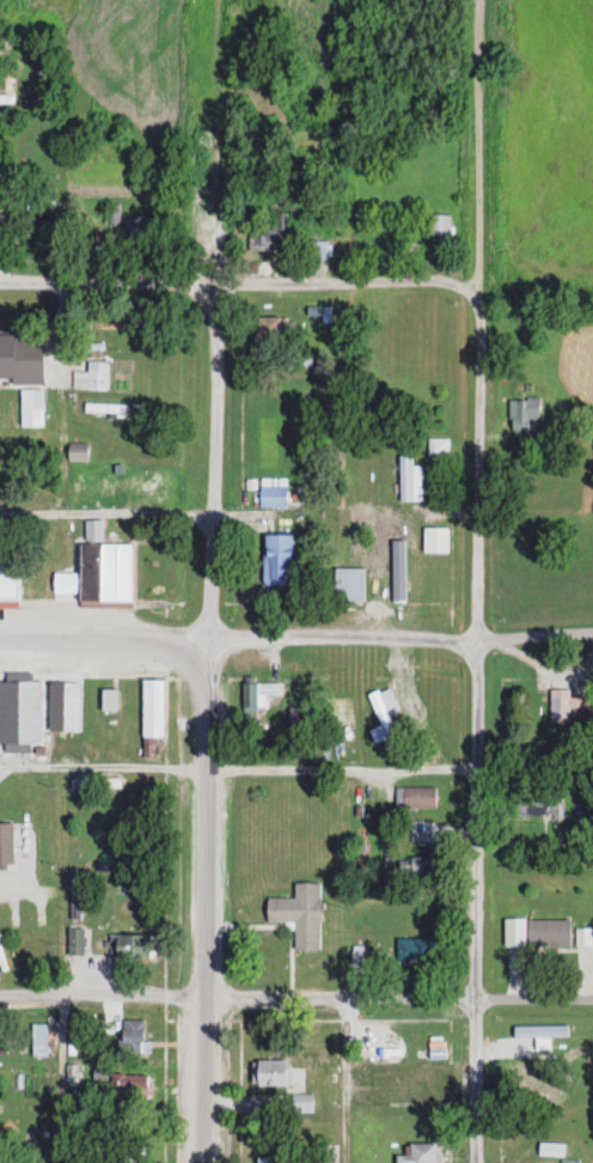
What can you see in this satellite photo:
building: (29, 44)
building: (7, 91)
road: (213, 141)
building: (114, 214)
building: (44, 218)
building: (438, 225)
building: (5, 227)
building: (271, 232)
building: (139, 235)
building: (49, 246)
building: (320, 250)
road: (103, 281)
road: (350, 281)
road: (212, 282)
building: (270, 327)
building: (108, 329)
building: (32, 352)
building: (91, 376)
building: (31, 408)
building: (105, 408)
building: (525, 410)
building: (438, 446)
building: (78, 452)
building: (410, 480)
building: (143, 483)
building: (273, 492)
road: (238, 511)
building: (93, 530)
building: (435, 540)
building: (277, 560)
building: (8, 574)
building: (104, 576)
road: (475, 581)
building: (348, 583)
road: (296, 640)
building: (257, 693)
building: (19, 698)
building: (110, 699)
building: (566, 704)
building: (62, 707)
building: (152, 707)
road: (203, 721)
road: (237, 767)
building: (418, 797)
building: (538, 802)
building: (5, 834)
building: (416, 869)
building: (300, 915)
building: (548, 933)
building: (74, 942)
building: (129, 948)
building: (417, 949)
building: (356, 958)
road: (295, 995)
building: (134, 1035)
building: (2, 1041)
building: (385, 1046)
building: (271, 1073)
building: (526, 1080)
building: (420, 1082)
building: (132, 1090)
building: (301, 1104)
building: (330, 1113)
building: (414, 1116)
building: (420, 1153)

